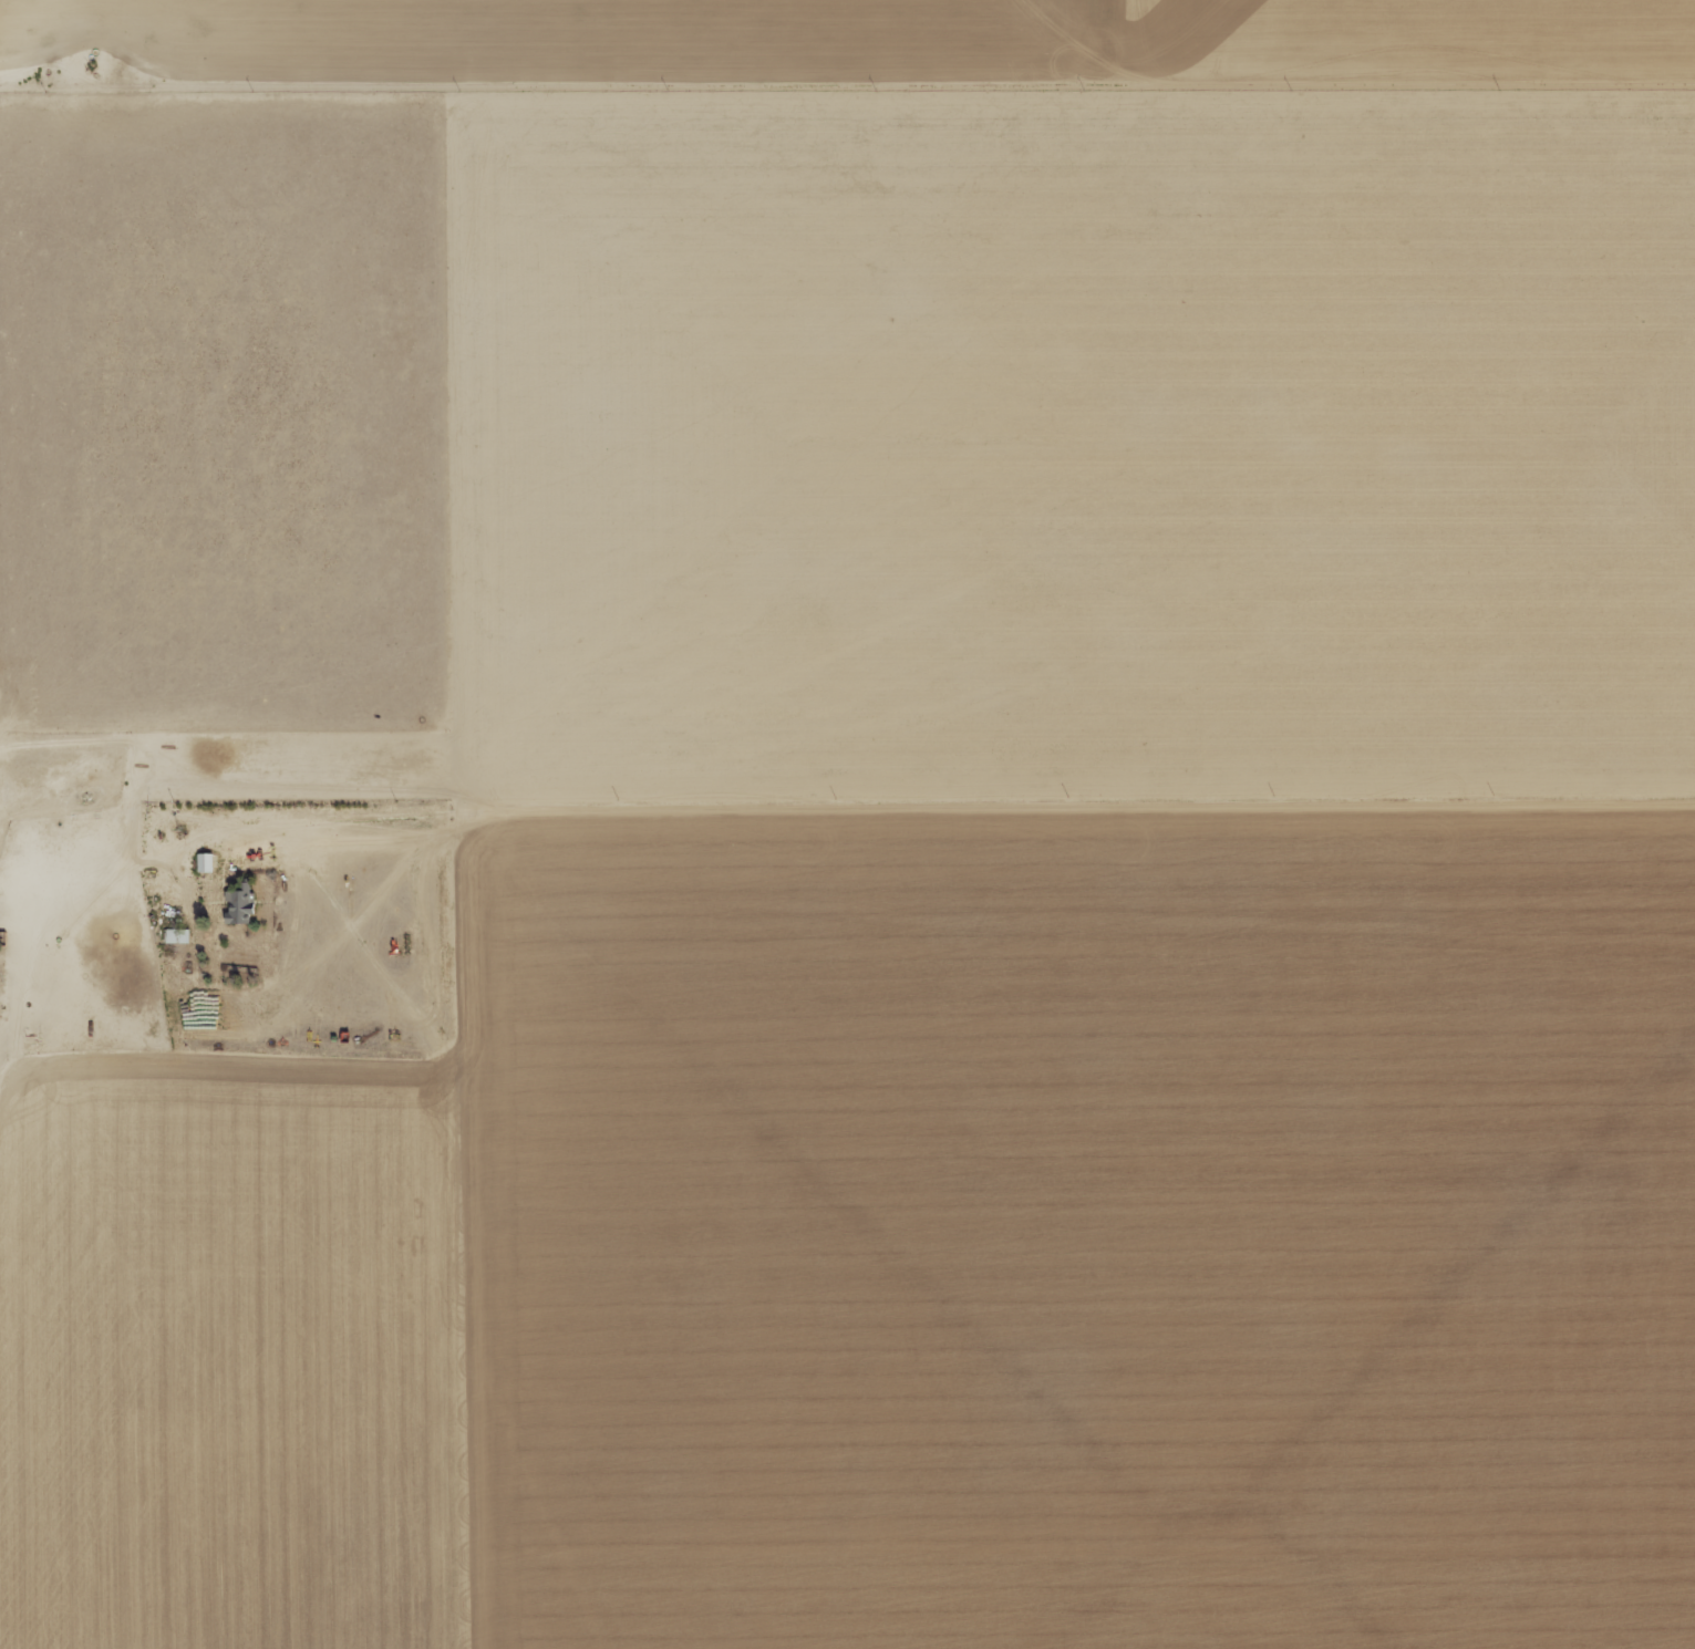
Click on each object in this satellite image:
road: (847, 89)
road: (974, 811)
building: (205, 863)
building: (239, 909)
building: (177, 936)

